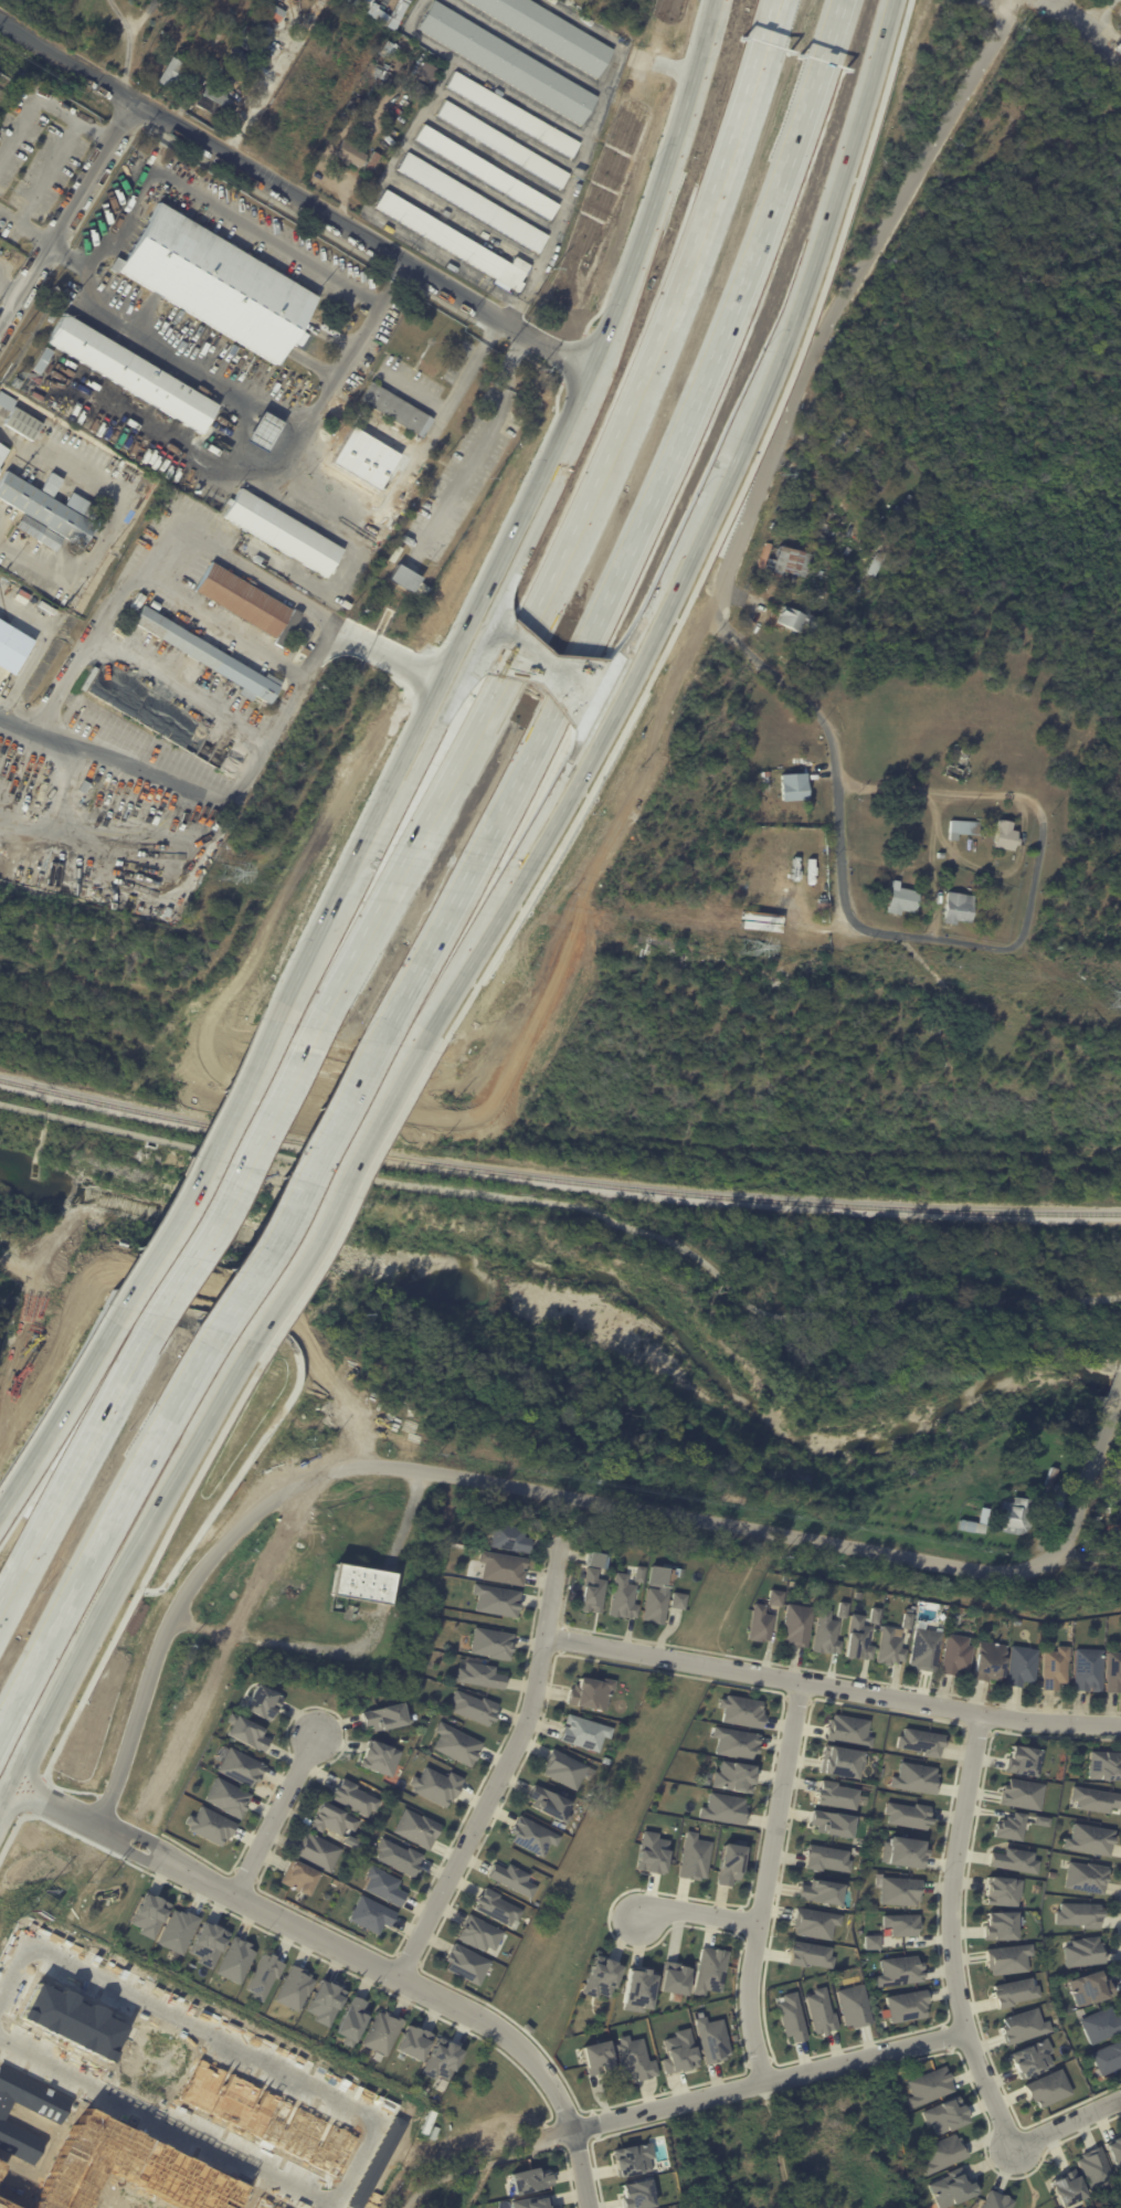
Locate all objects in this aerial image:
parking lot: (1109, 7)
road: (1090, 20)
building: (251, 31)
building: (550, 32)
road: (128, 44)
building: (391, 49)
building: (508, 64)
building: (426, 71)
building: (175, 72)
road: (43, 99)
building: (215, 102)
building: (514, 114)
building: (342, 122)
road: (590, 135)
building: (381, 139)
building: (505, 145)
building: (358, 155)
road: (387, 172)
building: (488, 172)
road: (296, 200)
building: (473, 203)
road: (64, 208)
road: (23, 224)
building: (454, 241)
road: (810, 263)
building: (218, 282)
road: (506, 310)
building: (52, 317)
road: (831, 317)
road: (358, 346)
building: (43, 360)
building: (130, 371)
building: (17, 382)
building: (11, 398)
building: (6, 401)
building: (394, 406)
building: (22, 424)
road: (436, 426)
building: (267, 432)
building: (325, 436)
building: (380, 439)
building: (836, 441)
building: (337, 442)
road: (480, 442)
building: (346, 448)
building: (2, 452)
building: (353, 455)
building: (363, 459)
building: (371, 464)
building: (870, 479)
building: (52, 484)
building: (896, 509)
building: (47, 511)
road: (535, 524)
road: (585, 530)
building: (283, 531)
building: (839, 533)
road: (645, 537)
road: (713, 542)
building: (878, 556)
building: (261, 560)
building: (783, 561)
building: (405, 578)
road: (678, 579)
building: (843, 581)
building: (86, 585)
building: (243, 599)
building: (138, 601)
road: (498, 605)
road: (324, 615)
building: (791, 620)
building: (286, 627)
building: (295, 630)
building: (12, 646)
road: (388, 651)
building: (205, 653)
road: (631, 655)
road: (548, 663)
road: (463, 668)
road: (533, 672)
road: (618, 700)
road: (14, 723)
road: (584, 735)
building: (955, 762)
building: (794, 785)
building: (85, 788)
road: (946, 791)
road: (556, 818)
building: (962, 828)
building: (1004, 836)
building: (802, 837)
building: (787, 838)
building: (939, 855)
road: (884, 860)
road: (931, 862)
power tower: (226, 873)
road: (998, 873)
building: (899, 900)
building: (955, 909)
road: (848, 915)
power tower: (747, 947)
road: (470, 960)
power tower: (1117, 999)
road: (94, 1123)
road: (190, 1150)
road: (199, 1162)
road: (236, 1171)
railway: (557, 1177)
road: (296, 1185)
road: (335, 1192)
road: (351, 1198)
road: (131, 1209)
road: (663, 1235)
building: (287, 1293)
road: (266, 1323)
road: (1118, 1391)
road: (54, 1395)
road: (60, 1409)
road: (78, 1464)
road: (1091, 1477)
building: (1050, 1498)
building: (1014, 1515)
road: (695, 1518)
road: (108, 1533)
building: (507, 1535)
building: (1003, 1536)
building: (595, 1560)
building: (501, 1566)
road: (124, 1570)
building: (641, 1573)
road: (138, 1584)
building: (363, 1584)
building: (791, 1584)
road: (737, 1591)
building: (813, 1591)
building: (595, 1592)
building: (625, 1597)
building: (773, 1597)
building: (496, 1598)
building: (680, 1600)
building: (657, 1606)
building: (840, 1610)
building: (873, 1615)
building: (955, 1617)
building: (903, 1620)
road: (202, 1626)
building: (758, 1626)
building: (795, 1626)
building: (824, 1634)
road: (230, 1637)
road: (561, 1639)
building: (855, 1640)
building: (491, 1641)
road: (158, 1647)
building: (888, 1647)
building: (922, 1647)
road: (319, 1649)
building: (952, 1652)
building: (986, 1661)
building: (1018, 1663)
road: (795, 1667)
building: (1051, 1668)
building: (1086, 1671)
building: (1111, 1672)
building: (479, 1673)
building: (419, 1687)
road: (832, 1688)
building: (589, 1693)
road: (796, 1699)
building: (262, 1701)
building: (474, 1707)
building: (741, 1710)
building: (383, 1716)
building: (848, 1729)
road: (976, 1730)
building: (246, 1732)
building: (583, 1732)
building: (921, 1740)
building: (736, 1741)
building: (456, 1743)
building: (378, 1757)
building: (1018, 1758)
building: (839, 1761)
road: (507, 1762)
building: (1101, 1765)
building: (240, 1766)
building: (563, 1767)
building: (734, 1775)
building: (916, 1776)
building: (434, 1785)
building: (1019, 1792)
building: (836, 1794)
road: (34, 1795)
building: (226, 1795)
building: (1092, 1797)
building: (353, 1798)
road: (108, 1799)
building: (550, 1802)
road: (52, 1803)
building: (725, 1807)
road: (277, 1811)
building: (908, 1813)
building: (1038, 1818)
building: (332, 1819)
building: (833, 1821)
building: (210, 1825)
building: (1009, 1826)
building: (416, 1827)
road: (145, 1837)
building: (536, 1837)
building: (1090, 1838)
building: (352, 1842)
building: (901, 1851)
building: (319, 1852)
building: (652, 1852)
road: (136, 1855)
building: (398, 1856)
building: (695, 1856)
building: (827, 1857)
building: (1012, 1859)
building: (730, 1862)
road: (245, 1874)
building: (1083, 1876)
building: (302, 1878)
building: (515, 1879)
road: (765, 1881)
building: (383, 1884)
building: (900, 1889)
building: (821, 1890)
building: (1001, 1890)
road: (275, 1897)
road: (763, 1897)
building: (499, 1908)
building: (370, 1913)
road: (698, 1913)
building: (149, 1914)
building: (1077, 1914)
road: (738, 1920)
building: (815, 1921)
road: (964, 1922)
building: (900, 1923)
road: (1119, 1923)
building: (995, 1924)
building: (177, 1930)
building: (482, 1934)
road: (951, 1934)
road: (284, 1940)
building: (871, 1941)
building: (208, 1943)
building: (1081, 1952)
building: (810, 1954)
building: (1005, 1957)
building: (235, 1958)
building: (468, 1964)
building: (710, 1969)
building: (898, 1971)
building: (263, 1975)
building: (601, 1976)
building: (676, 1979)
building: (294, 1987)
building: (1088, 1987)
building: (638, 1988)
building: (1014, 1990)
road: (435, 1994)
road: (736, 2000)
building: (325, 2001)
building: (854, 2005)
building: (907, 2005)
building: (818, 2010)
building: (790, 2016)
building: (350, 2020)
building: (1022, 2025)
building: (1099, 2026)
building: (382, 2031)
road: (895, 2035)
road: (946, 2037)
road: (222, 2038)
building: (712, 2038)
building: (412, 2042)
building: (677, 2051)
building: (595, 2057)
building: (632, 2058)
building: (1029, 2058)
building: (442, 2059)
building: (1107, 2059)
road: (759, 2060)
building: (928, 2085)
building: (1046, 2088)
road: (688, 2100)
building: (943, 2114)
road: (166, 2122)
road: (1067, 2123)
road: (594, 2124)
road: (547, 2134)
road: (595, 2138)
road: (780, 2144)
building: (942, 2152)
building: (1114, 2152)
road: (985, 2153)
building: (633, 2157)
building: (1093, 2166)
road: (568, 2172)
building: (530, 2178)
building: (950, 2187)
building: (1066, 2188)
road: (1030, 2190)
building: (637, 2194)
road: (412, 2199)
building: (995, 2200)
building: (533, 2201)
road: (330, 2207)

